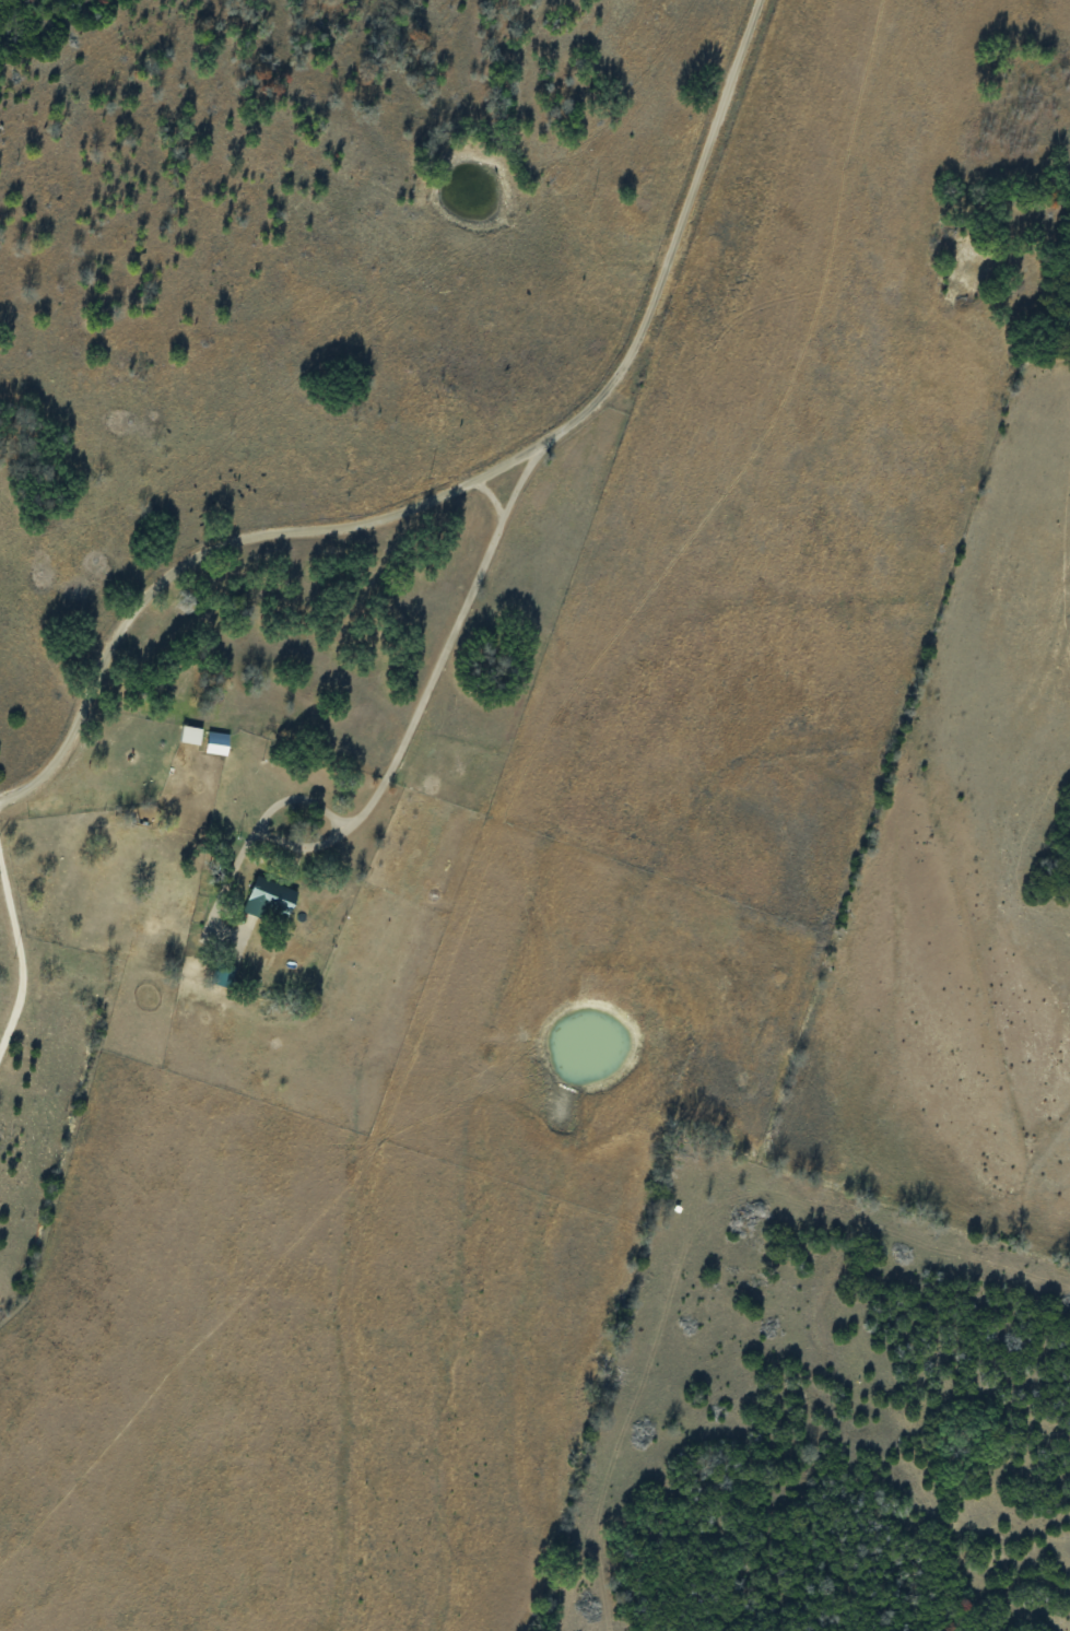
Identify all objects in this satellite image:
road: (458, 482)
building: (189, 734)
building: (267, 896)

